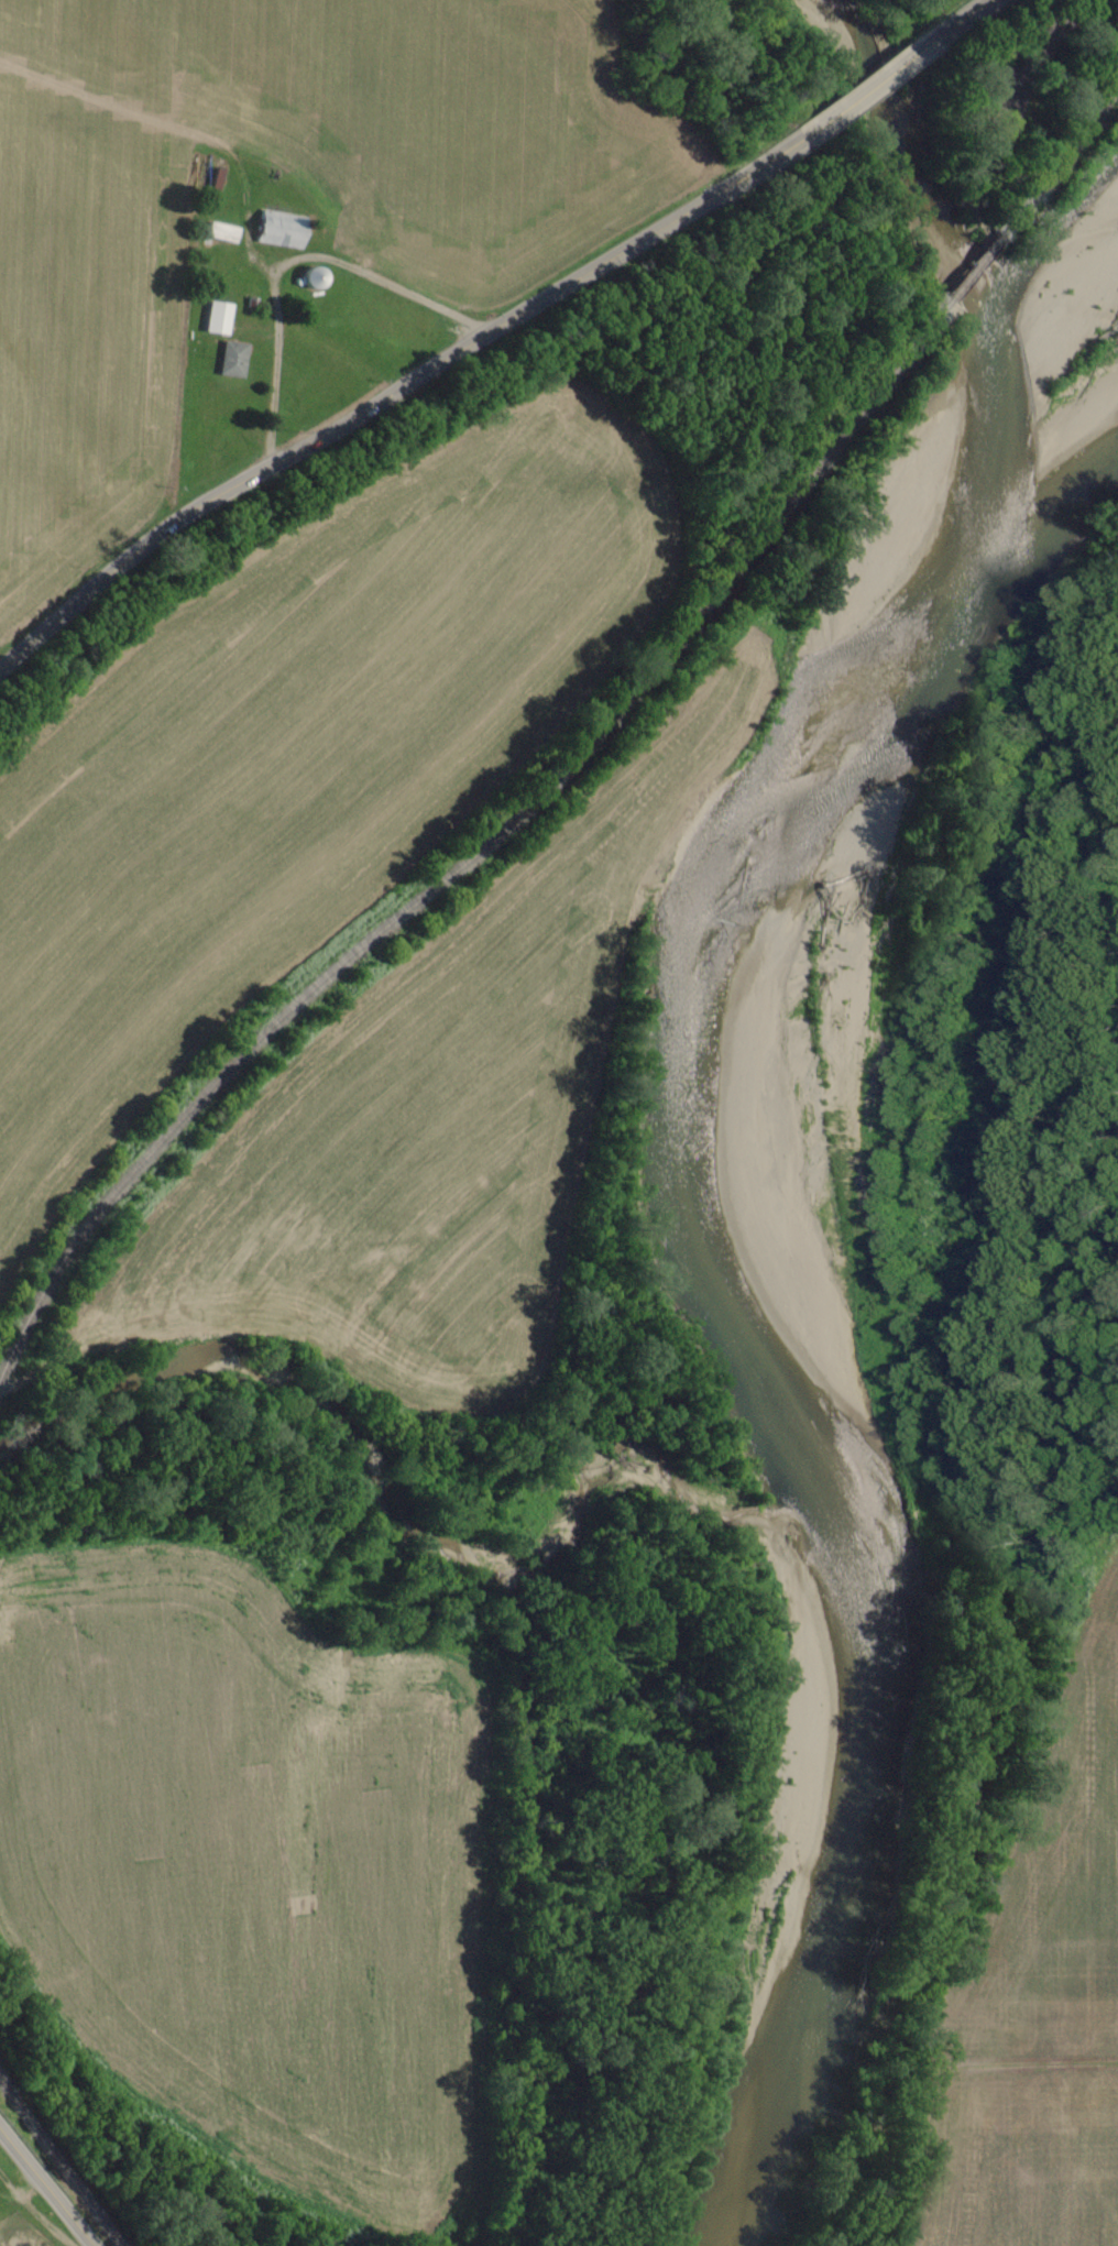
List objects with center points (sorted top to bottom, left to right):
road: (963, 17)
road: (869, 86)
railway: (1059, 162)
building: (277, 229)
building: (220, 232)
railway: (975, 267)
building: (216, 318)
building: (230, 359)
road: (391, 390)
railway: (484, 847)
river: (830, 1238)
railway: (59, 2162)
road: (44, 2190)

